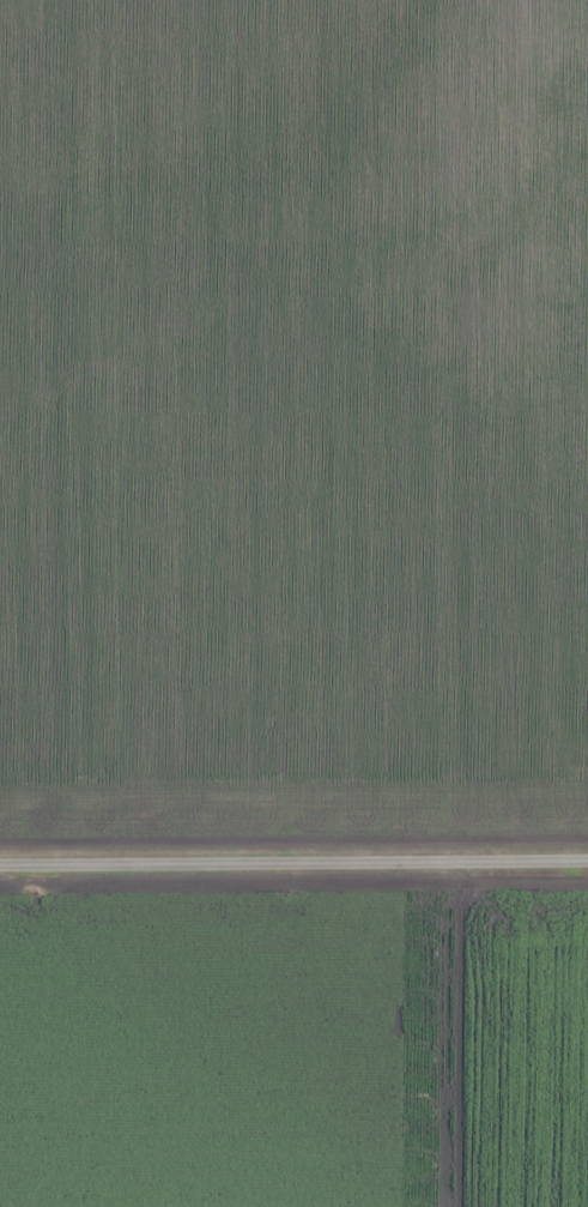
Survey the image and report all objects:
road: (293, 844)

